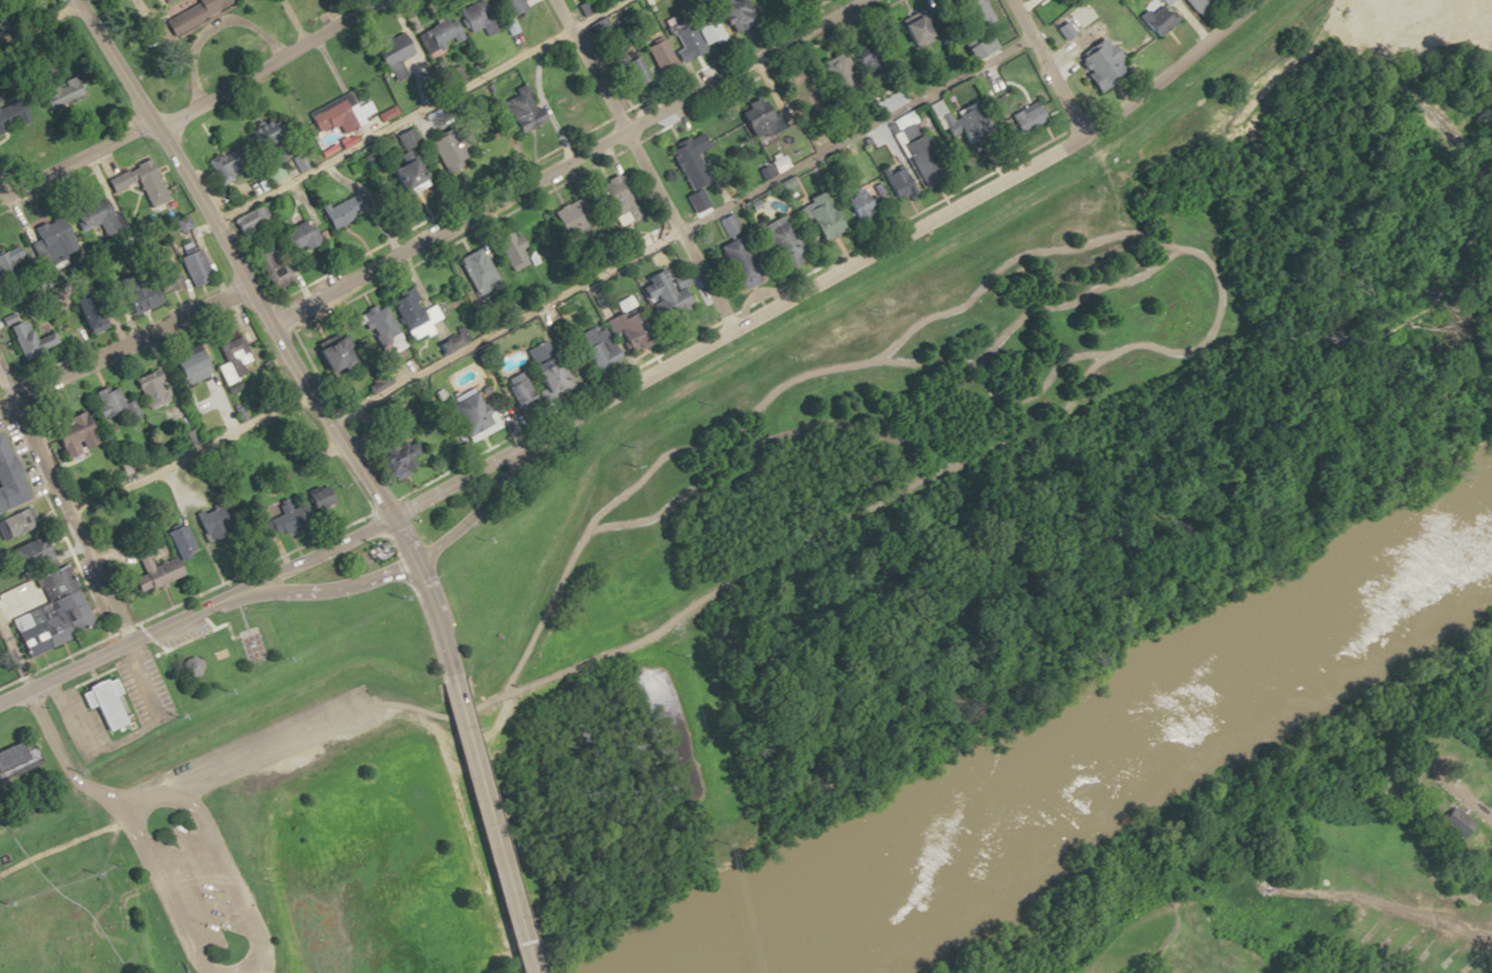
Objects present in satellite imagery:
building: (164, 1)
building: (1192, 4)
building: (509, 7)
building: (975, 11)
building: (727, 12)
building: (192, 13)
building: (472, 18)
building: (1154, 19)
building: (704, 29)
building: (439, 33)
building: (978, 45)
building: (688, 47)
building: (388, 54)
building: (1100, 62)
road: (265, 64)
building: (837, 66)
road: (1047, 67)
building: (625, 72)
building: (59, 92)
building: (803, 95)
road: (414, 110)
building: (332, 114)
building: (757, 117)
building: (956, 120)
building: (445, 149)
road: (74, 159)
building: (687, 161)
road: (643, 163)
road: (564, 165)
building: (217, 166)
building: (401, 176)
building: (136, 182)
building: (614, 200)
building: (857, 202)
building: (342, 208)
building: (93, 216)
building: (818, 216)
building: (566, 221)
building: (729, 225)
road: (680, 229)
building: (293, 237)
road: (897, 237)
building: (49, 242)
building: (779, 242)
building: (506, 250)
building: (10, 259)
road: (230, 259)
building: (734, 263)
building: (190, 267)
building: (267, 267)
building: (472, 271)
building: (162, 278)
building: (129, 293)
building: (663, 293)
road: (843, 293)
building: (82, 312)
building: (408, 314)
building: (625, 330)
building: (381, 332)
building: (25, 339)
road: (120, 340)
building: (593, 347)
building: (326, 356)
building: (231, 357)
building: (183, 365)
building: (543, 376)
building: (147, 391)
building: (516, 391)
building: (102, 402)
building: (468, 415)
building: (66, 435)
road: (188, 452)
building: (7, 485)
building: (318, 499)
traffic signals: (391, 516)
road: (68, 517)
building: (284, 517)
road: (381, 521)
building: (15, 523)
building: (206, 524)
road: (402, 539)
building: (177, 541)
building: (27, 557)
traffic signals: (413, 563)
road: (404, 566)
building: (150, 573)
building: (52, 613)
road: (432, 617)
road: (205, 618)
parking lot: (180, 632)
road: (203, 632)
road: (152, 643)
road: (120, 644)
building: (186, 664)
parking lot: (144, 689)
building: (97, 701)
road: (411, 705)
parking lot: (76, 723)
road: (122, 737)
river: (1109, 747)
building: (8, 752)
building: (1464, 761)
road: (15, 765)
road: (67, 778)
building: (1482, 783)
road: (1450, 789)
road: (135, 797)
building: (1453, 821)
road: (486, 823)
park: (346, 831)
building: (1476, 838)
parking lot: (196, 886)
park: (78, 898)
road: (1372, 904)
road: (261, 964)
park: (254, 971)

